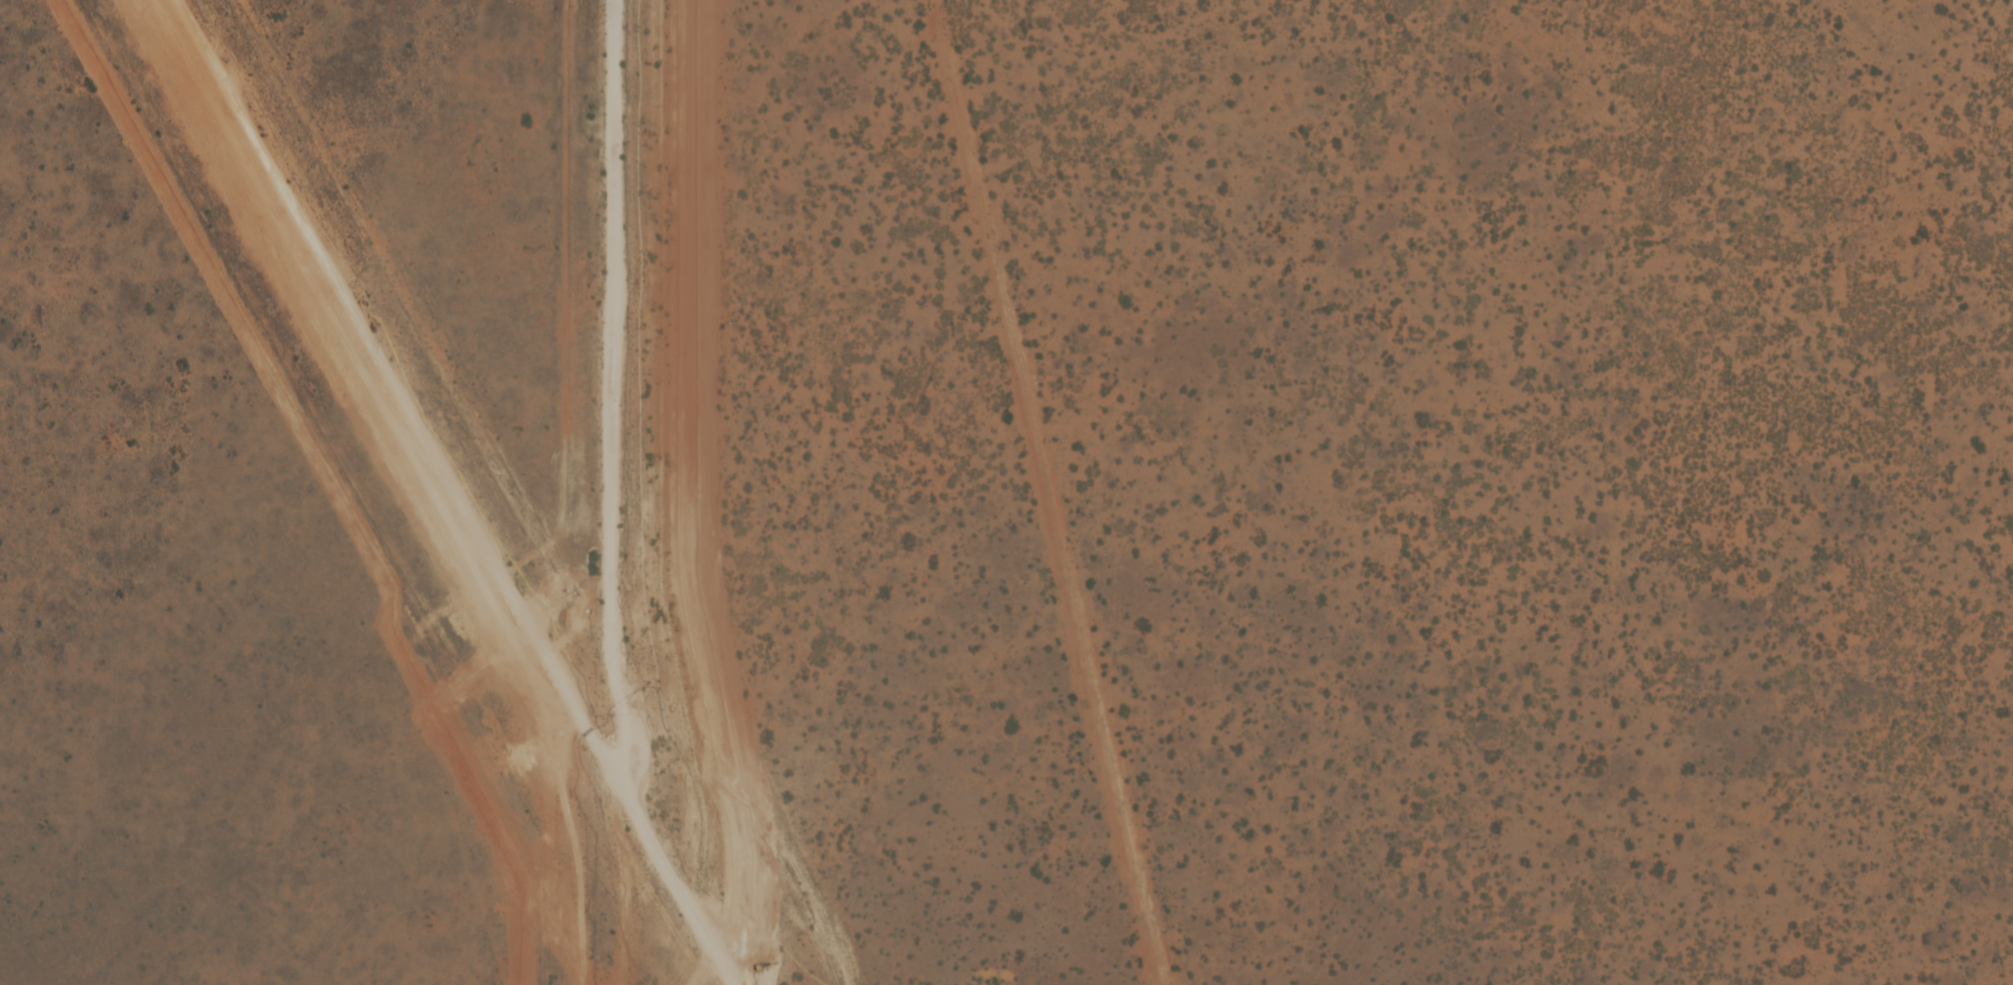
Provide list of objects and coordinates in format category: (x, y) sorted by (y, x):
road: (619, 414)
road: (453, 495)
road: (596, 880)

